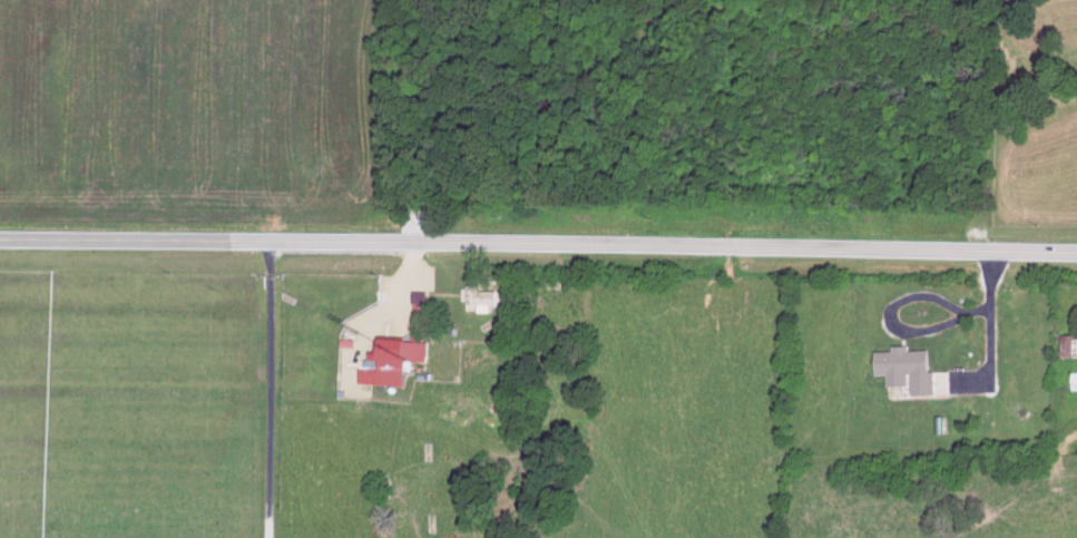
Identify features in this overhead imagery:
road: (538, 244)
building: (477, 297)
building: (1067, 348)
building: (400, 353)
building: (1071, 382)
road: (267, 390)

